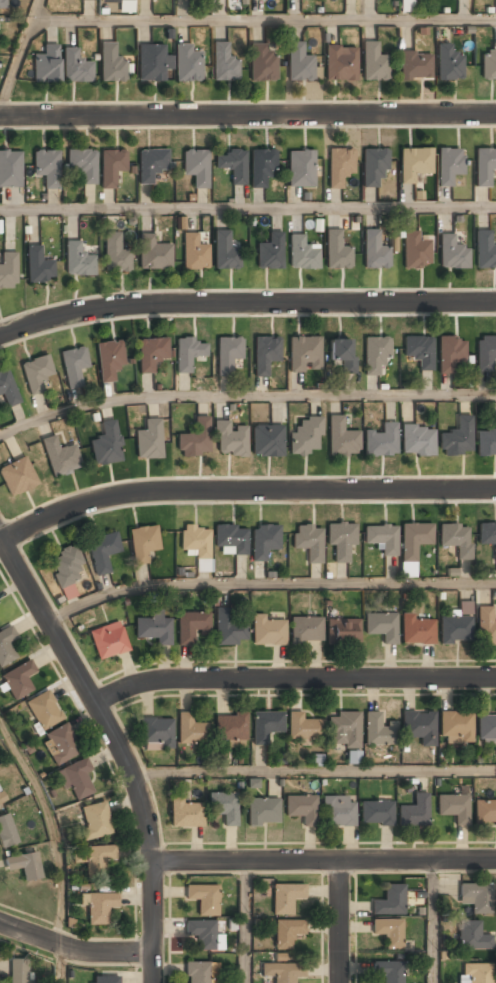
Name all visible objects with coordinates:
building: (82, 0)
building: (118, 0)
building: (2, 4)
building: (407, 5)
road: (264, 20)
road: (21, 52)
building: (494, 58)
building: (152, 63)
building: (261, 63)
building: (298, 63)
building: (373, 63)
building: (448, 63)
building: (110, 64)
building: (186, 64)
building: (223, 64)
building: (340, 64)
building: (45, 65)
building: (414, 65)
building: (74, 66)
road: (247, 115)
building: (414, 163)
building: (82, 164)
building: (449, 164)
building: (150, 165)
building: (231, 165)
building: (339, 165)
building: (195, 166)
building: (374, 166)
building: (483, 166)
building: (46, 167)
building: (111, 167)
building: (300, 168)
building: (10, 169)
building: (261, 169)
road: (248, 209)
building: (373, 249)
building: (484, 249)
building: (415, 250)
building: (224, 251)
building: (299, 251)
building: (336, 251)
building: (193, 252)
building: (270, 252)
building: (153, 253)
building: (452, 253)
building: (115, 254)
building: (77, 260)
building: (37, 266)
building: (8, 269)
road: (246, 303)
building: (419, 351)
building: (151, 353)
building: (187, 353)
building: (485, 353)
building: (227, 354)
building: (265, 354)
building: (304, 354)
building: (374, 354)
building: (450, 354)
building: (341, 356)
building: (109, 360)
building: (73, 366)
building: (36, 374)
building: (8, 389)
road: (244, 394)
building: (305, 437)
building: (456, 438)
building: (194, 439)
building: (341, 439)
building: (148, 440)
building: (229, 440)
building: (267, 441)
building: (382, 441)
building: (417, 441)
building: (486, 441)
building: (106, 444)
building: (60, 457)
building: (17, 477)
road: (243, 492)
building: (487, 536)
building: (381, 539)
building: (455, 539)
building: (340, 540)
building: (231, 541)
building: (264, 541)
building: (308, 542)
building: (143, 544)
building: (196, 545)
building: (412, 545)
building: (102, 551)
building: (65, 570)
building: (389, 570)
road: (268, 583)
building: (381, 626)
building: (456, 626)
building: (485, 626)
building: (191, 627)
building: (228, 629)
building: (154, 630)
building: (305, 630)
building: (416, 630)
building: (267, 631)
building: (343, 632)
building: (108, 641)
building: (6, 645)
building: (18, 679)
road: (292, 679)
building: (43, 709)
building: (486, 726)
building: (265, 727)
building: (303, 727)
building: (418, 728)
building: (455, 728)
building: (230, 729)
building: (189, 730)
building: (343, 730)
building: (376, 731)
building: (156, 734)
building: (60, 743)
road: (120, 747)
building: (353, 757)
road: (314, 771)
building: (75, 778)
building: (1, 796)
building: (223, 807)
building: (453, 808)
building: (301, 809)
building: (262, 812)
building: (338, 812)
building: (376, 813)
building: (414, 813)
building: (485, 813)
building: (186, 814)
building: (95, 820)
road: (51, 828)
building: (6, 831)
building: (97, 859)
road: (324, 860)
building: (24, 865)
building: (285, 897)
building: (475, 897)
building: (203, 899)
building: (389, 901)
building: (98, 906)
road: (340, 921)
road: (244, 922)
road: (431, 922)
building: (388, 932)
building: (286, 933)
building: (202, 934)
building: (472, 937)
road: (75, 948)
road: (64, 964)
building: (19, 971)
building: (388, 971)
building: (214, 972)
building: (283, 972)
building: (196, 973)
building: (477, 973)
building: (104, 980)

